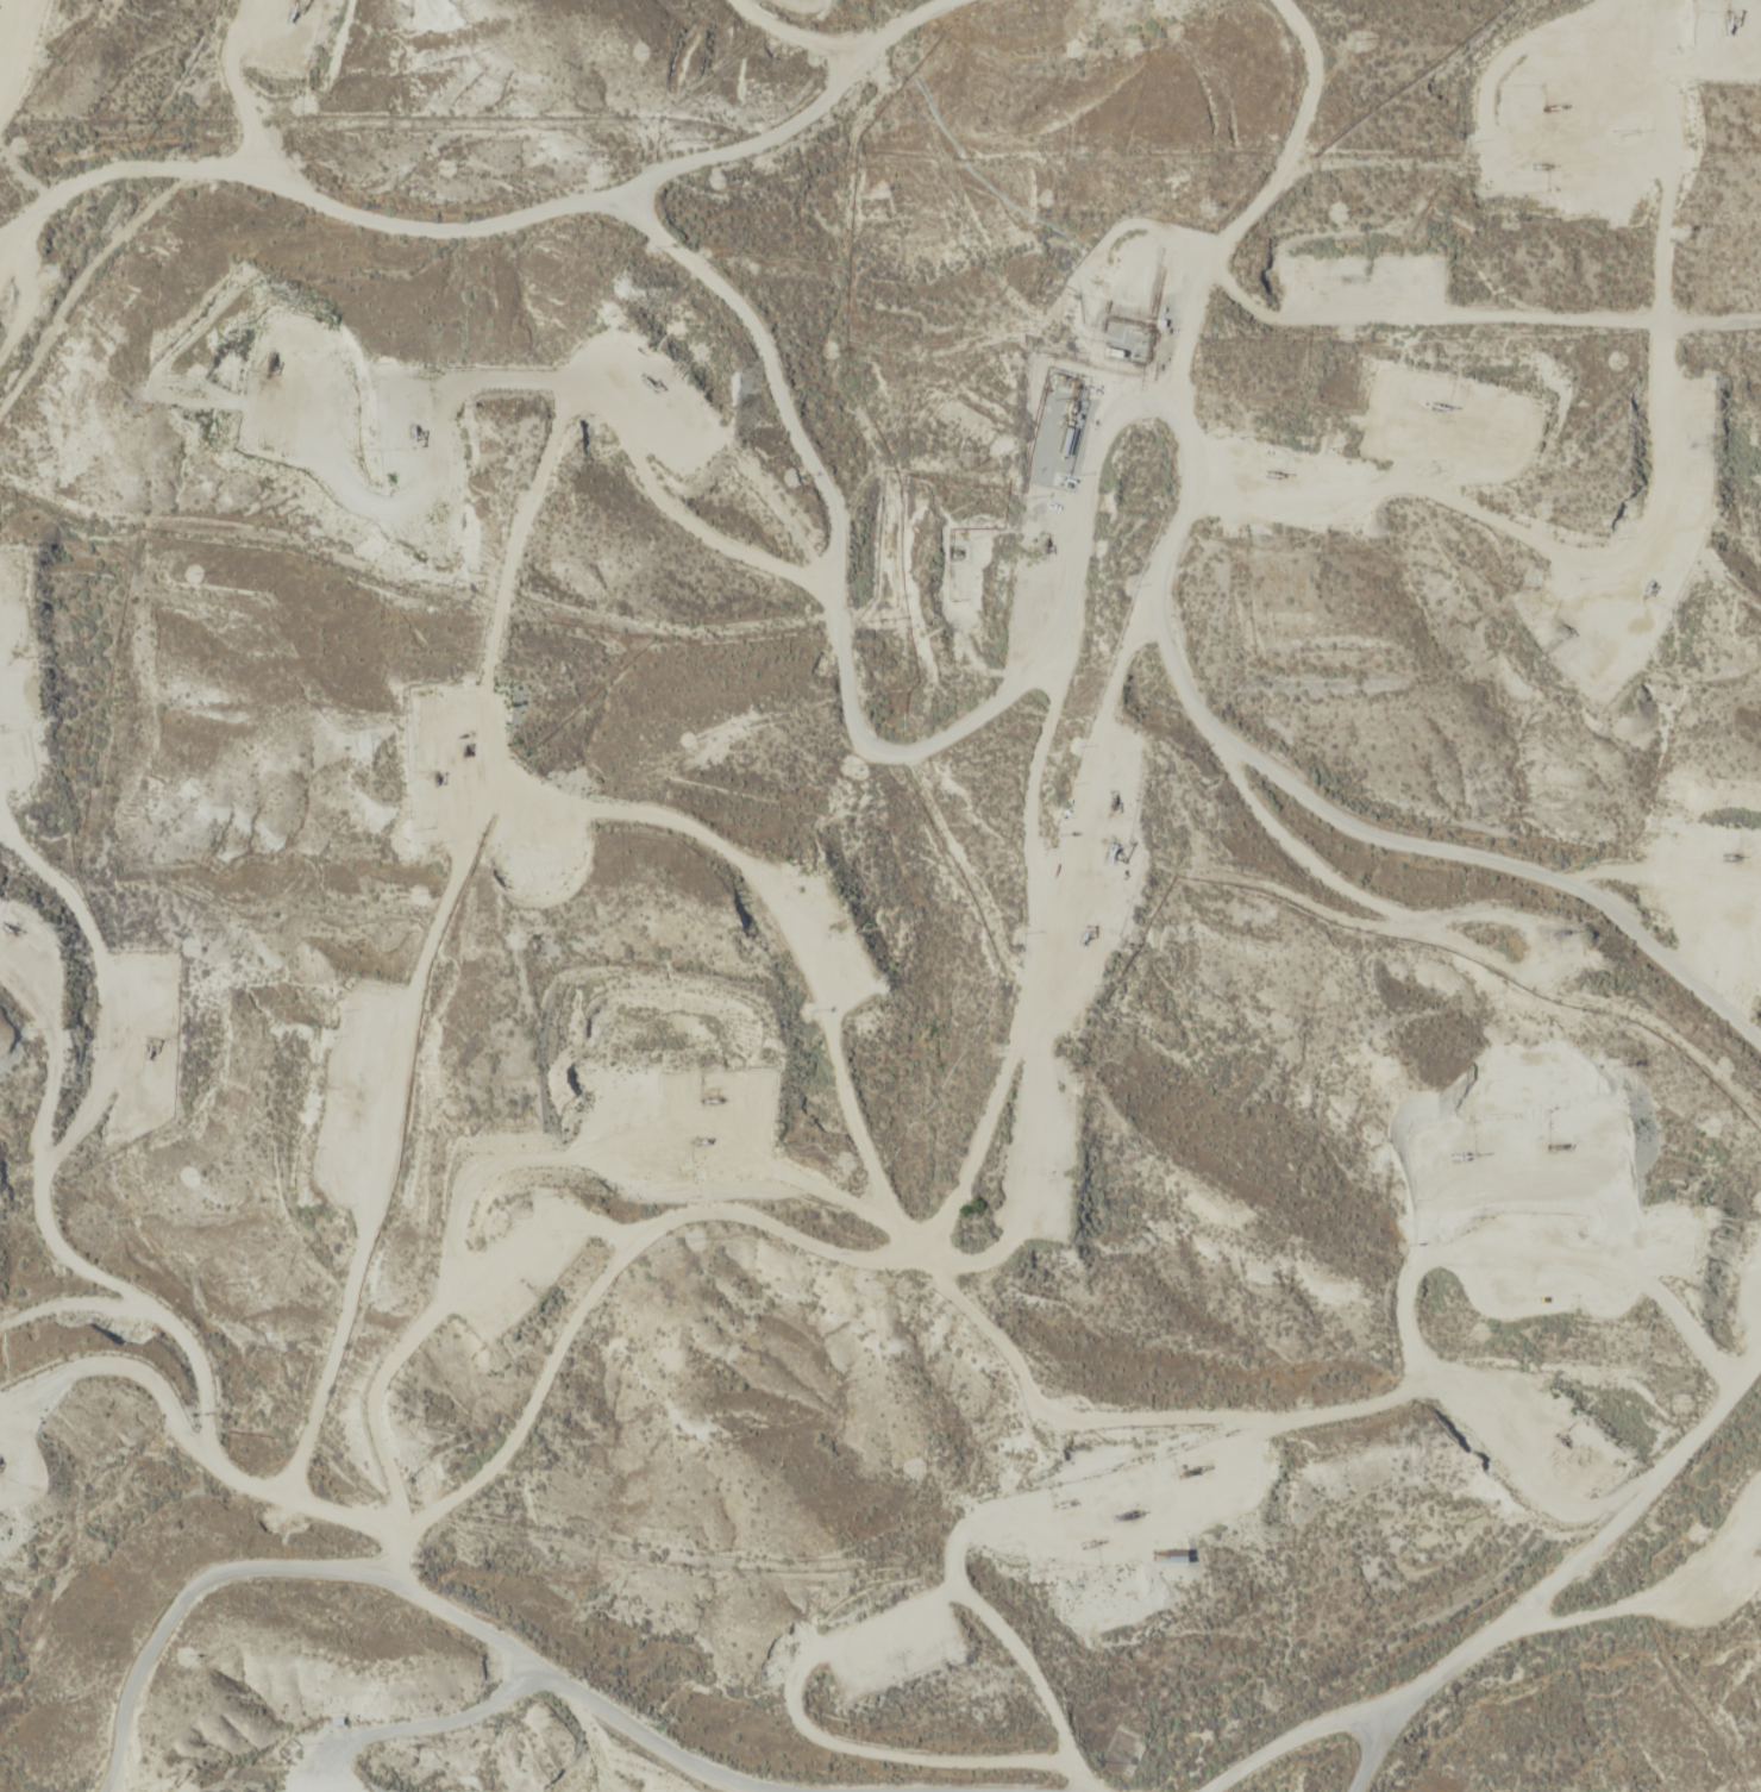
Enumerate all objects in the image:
road: (10, 32)
road: (2, 43)
road: (802, 117)
road: (1403, 332)
road: (1146, 584)
road: (858, 631)
road: (543, 1059)
road: (65, 1241)
road: (1103, 1371)
road: (284, 1592)
road: (1534, 1621)
road: (752, 1729)

